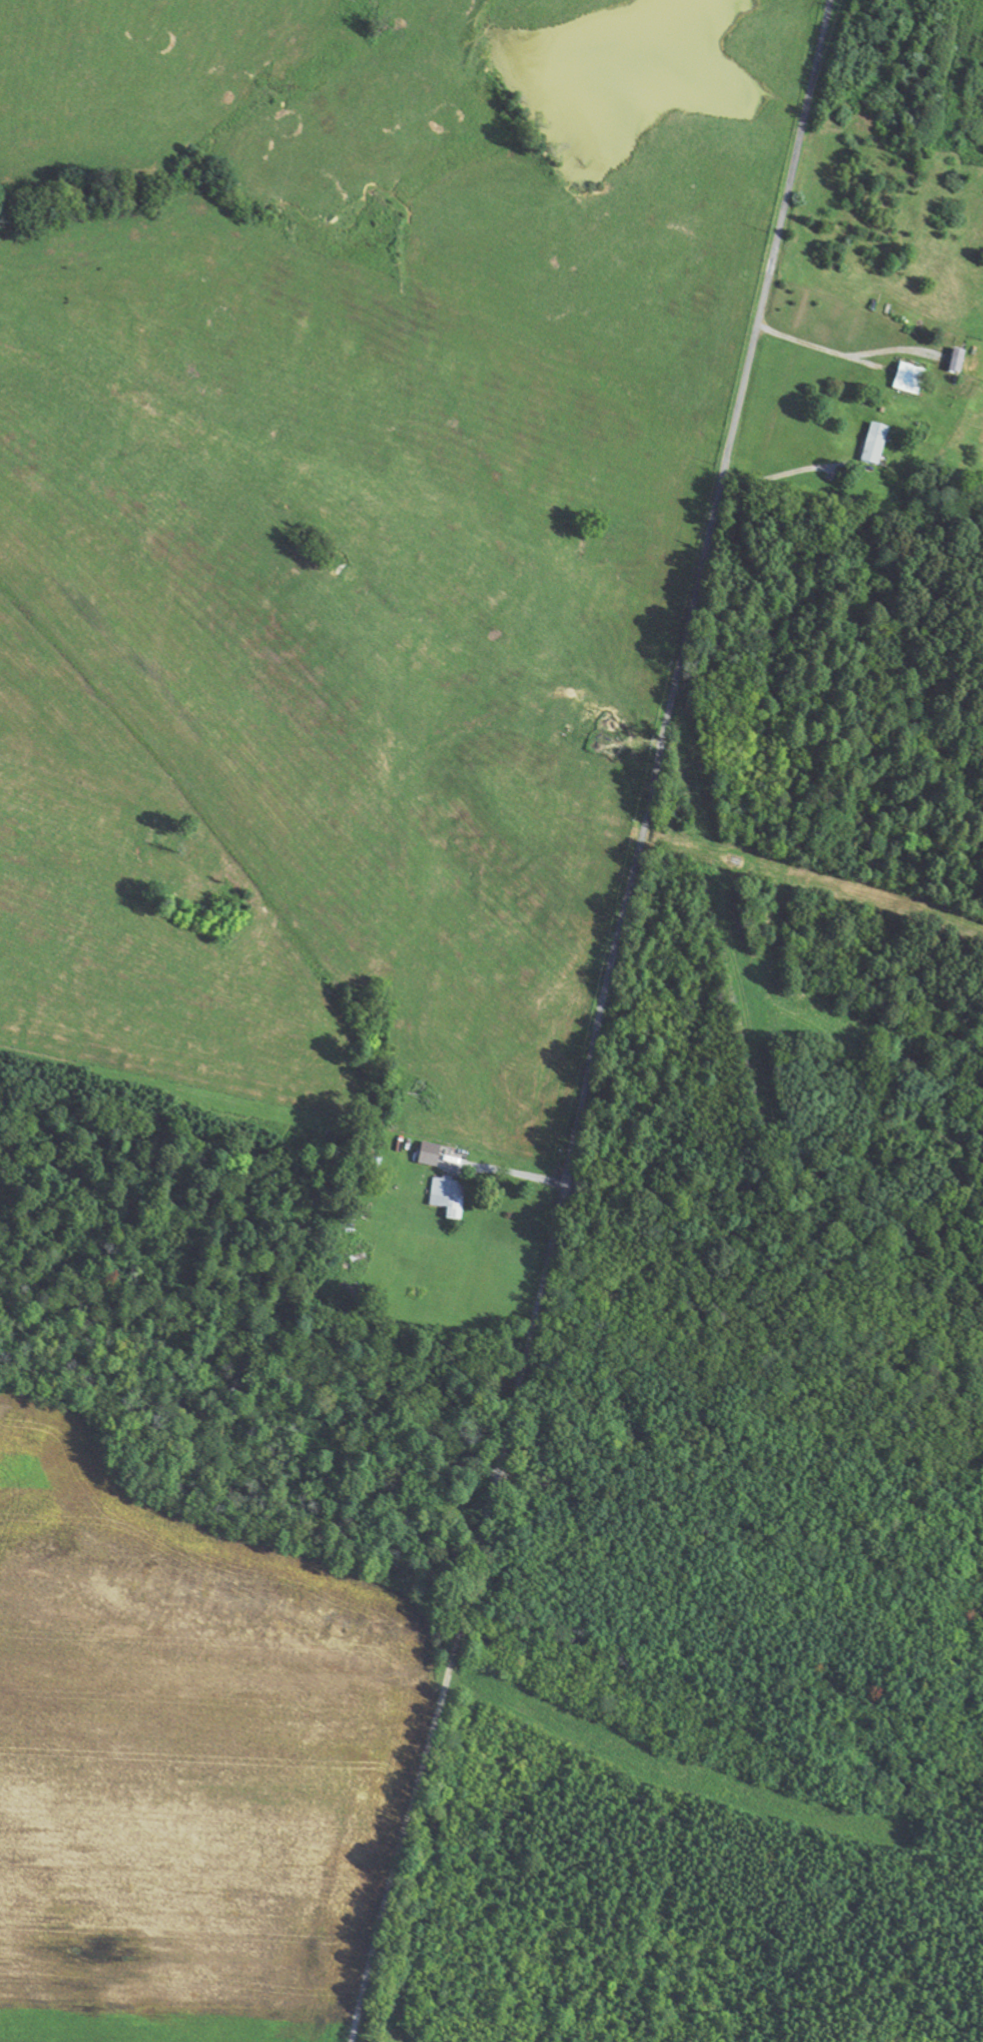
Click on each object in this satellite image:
building: (908, 381)
building: (873, 445)
road: (597, 1022)
building: (446, 1198)

